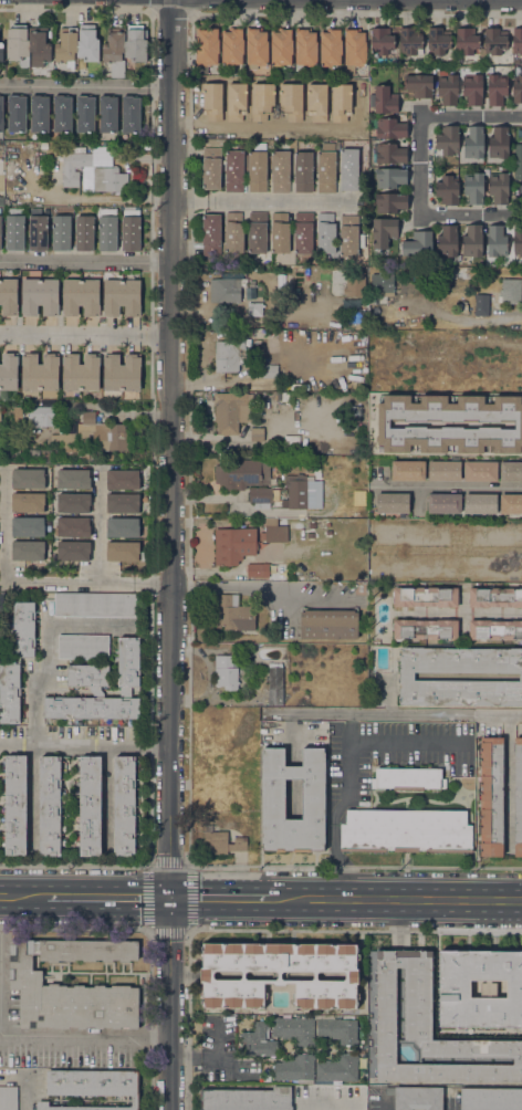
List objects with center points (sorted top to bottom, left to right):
building: (438, 40)
building: (466, 40)
building: (516, 40)
building: (409, 41)
building: (494, 41)
building: (382, 42)
building: (136, 43)
building: (18, 44)
building: (86, 44)
building: (207, 45)
building: (232, 45)
building: (257, 45)
building: (282, 45)
building: (305, 45)
building: (39, 46)
building: (66, 46)
building: (331, 46)
building: (354, 49)
building: (1, 51)
building: (114, 51)
building: (419, 85)
road: (86, 86)
building: (472, 88)
building: (495, 88)
building: (516, 88)
building: (448, 90)
building: (335, 95)
building: (229, 98)
building: (385, 100)
building: (17, 113)
building: (39, 113)
building: (62, 113)
building: (85, 113)
building: (1, 114)
building: (107, 114)
building: (130, 114)
building: (257, 119)
road: (238, 125)
building: (390, 128)
building: (518, 135)
building: (448, 140)
building: (474, 143)
building: (499, 143)
building: (390, 153)
building: (518, 161)
road: (421, 165)
building: (73, 167)
building: (211, 168)
building: (257, 168)
building: (326, 168)
building: (349, 169)
building: (280, 170)
building: (233, 171)
building: (303, 171)
building: (390, 177)
building: (108, 179)
building: (473, 187)
building: (499, 187)
building: (448, 190)
road: (261, 200)
building: (2, 201)
building: (390, 201)
building: (0, 209)
building: (0, 226)
building: (14, 229)
building: (107, 229)
building: (130, 230)
building: (383, 231)
building: (38, 232)
building: (61, 232)
building: (233, 232)
building: (257, 232)
building: (279, 232)
building: (303, 232)
building: (325, 232)
building: (84, 233)
building: (211, 234)
building: (349, 235)
building: (448, 240)
building: (518, 240)
building: (473, 241)
building: (497, 241)
building: (419, 244)
road: (86, 261)
building: (382, 283)
building: (355, 284)
building: (227, 289)
building: (510, 291)
building: (8, 296)
building: (40, 296)
building: (122, 296)
building: (81, 297)
building: (254, 303)
building: (481, 304)
building: (462, 307)
building: (357, 314)
road: (468, 318)
road: (86, 334)
building: (480, 348)
building: (231, 354)
building: (502, 367)
building: (9, 370)
building: (40, 371)
building: (81, 373)
building: (122, 373)
building: (262, 376)
building: (231, 410)
building: (355, 410)
building: (0, 416)
building: (41, 416)
building: (383, 423)
building: (453, 423)
building: (97, 433)
building: (257, 434)
building: (291, 440)
building: (32, 454)
building: (382, 468)
building: (408, 470)
building: (480, 470)
building: (443, 471)
building: (510, 471)
building: (239, 473)
building: (28, 479)
building: (73, 479)
building: (123, 479)
road: (449, 485)
building: (296, 493)
building: (260, 495)
building: (28, 502)
building: (73, 502)
building: (122, 503)
building: (393, 503)
building: (443, 503)
building: (480, 503)
building: (511, 504)
building: (272, 520)
building: (294, 524)
building: (28, 526)
building: (73, 526)
road: (97, 526)
building: (123, 527)
building: (274, 534)
building: (294, 535)
building: (232, 545)
building: (489, 548)
building: (28, 551)
building: (73, 551)
building: (124, 551)
building: (389, 553)
road: (174, 554)
building: (253, 570)
road: (32, 582)
road: (261, 588)
building: (425, 596)
building: (494, 597)
building: (96, 605)
road: (467, 611)
building: (232, 612)
building: (328, 624)
building: (23, 629)
building: (425, 629)
building: (494, 629)
building: (1, 641)
building: (83, 647)
road: (48, 658)
building: (128, 664)
building: (226, 672)
building: (88, 677)
building: (406, 677)
building: (274, 684)
building: (10, 692)
building: (91, 708)
road: (387, 712)
road: (55, 741)
road: (156, 742)
road: (346, 766)
building: (408, 778)
building: (491, 796)
building: (518, 796)
building: (313, 799)
building: (15, 805)
building: (50, 806)
building: (90, 806)
building: (124, 806)
building: (406, 830)
building: (222, 841)
road: (24, 898)
road: (112, 899)
road: (220, 901)
road: (383, 901)
road: (511, 902)
building: (279, 974)
building: (25, 984)
building: (455, 988)
building: (294, 1029)
building: (337, 1029)
building: (428, 1029)
road: (87, 1036)
building: (258, 1041)
road: (216, 1055)
road: (227, 1062)
building: (294, 1067)
building: (337, 1068)
building: (91, 1087)
building: (416, 1097)
building: (8, 1098)
building: (246, 1099)
building: (490, 1099)
road: (327, 1106)

